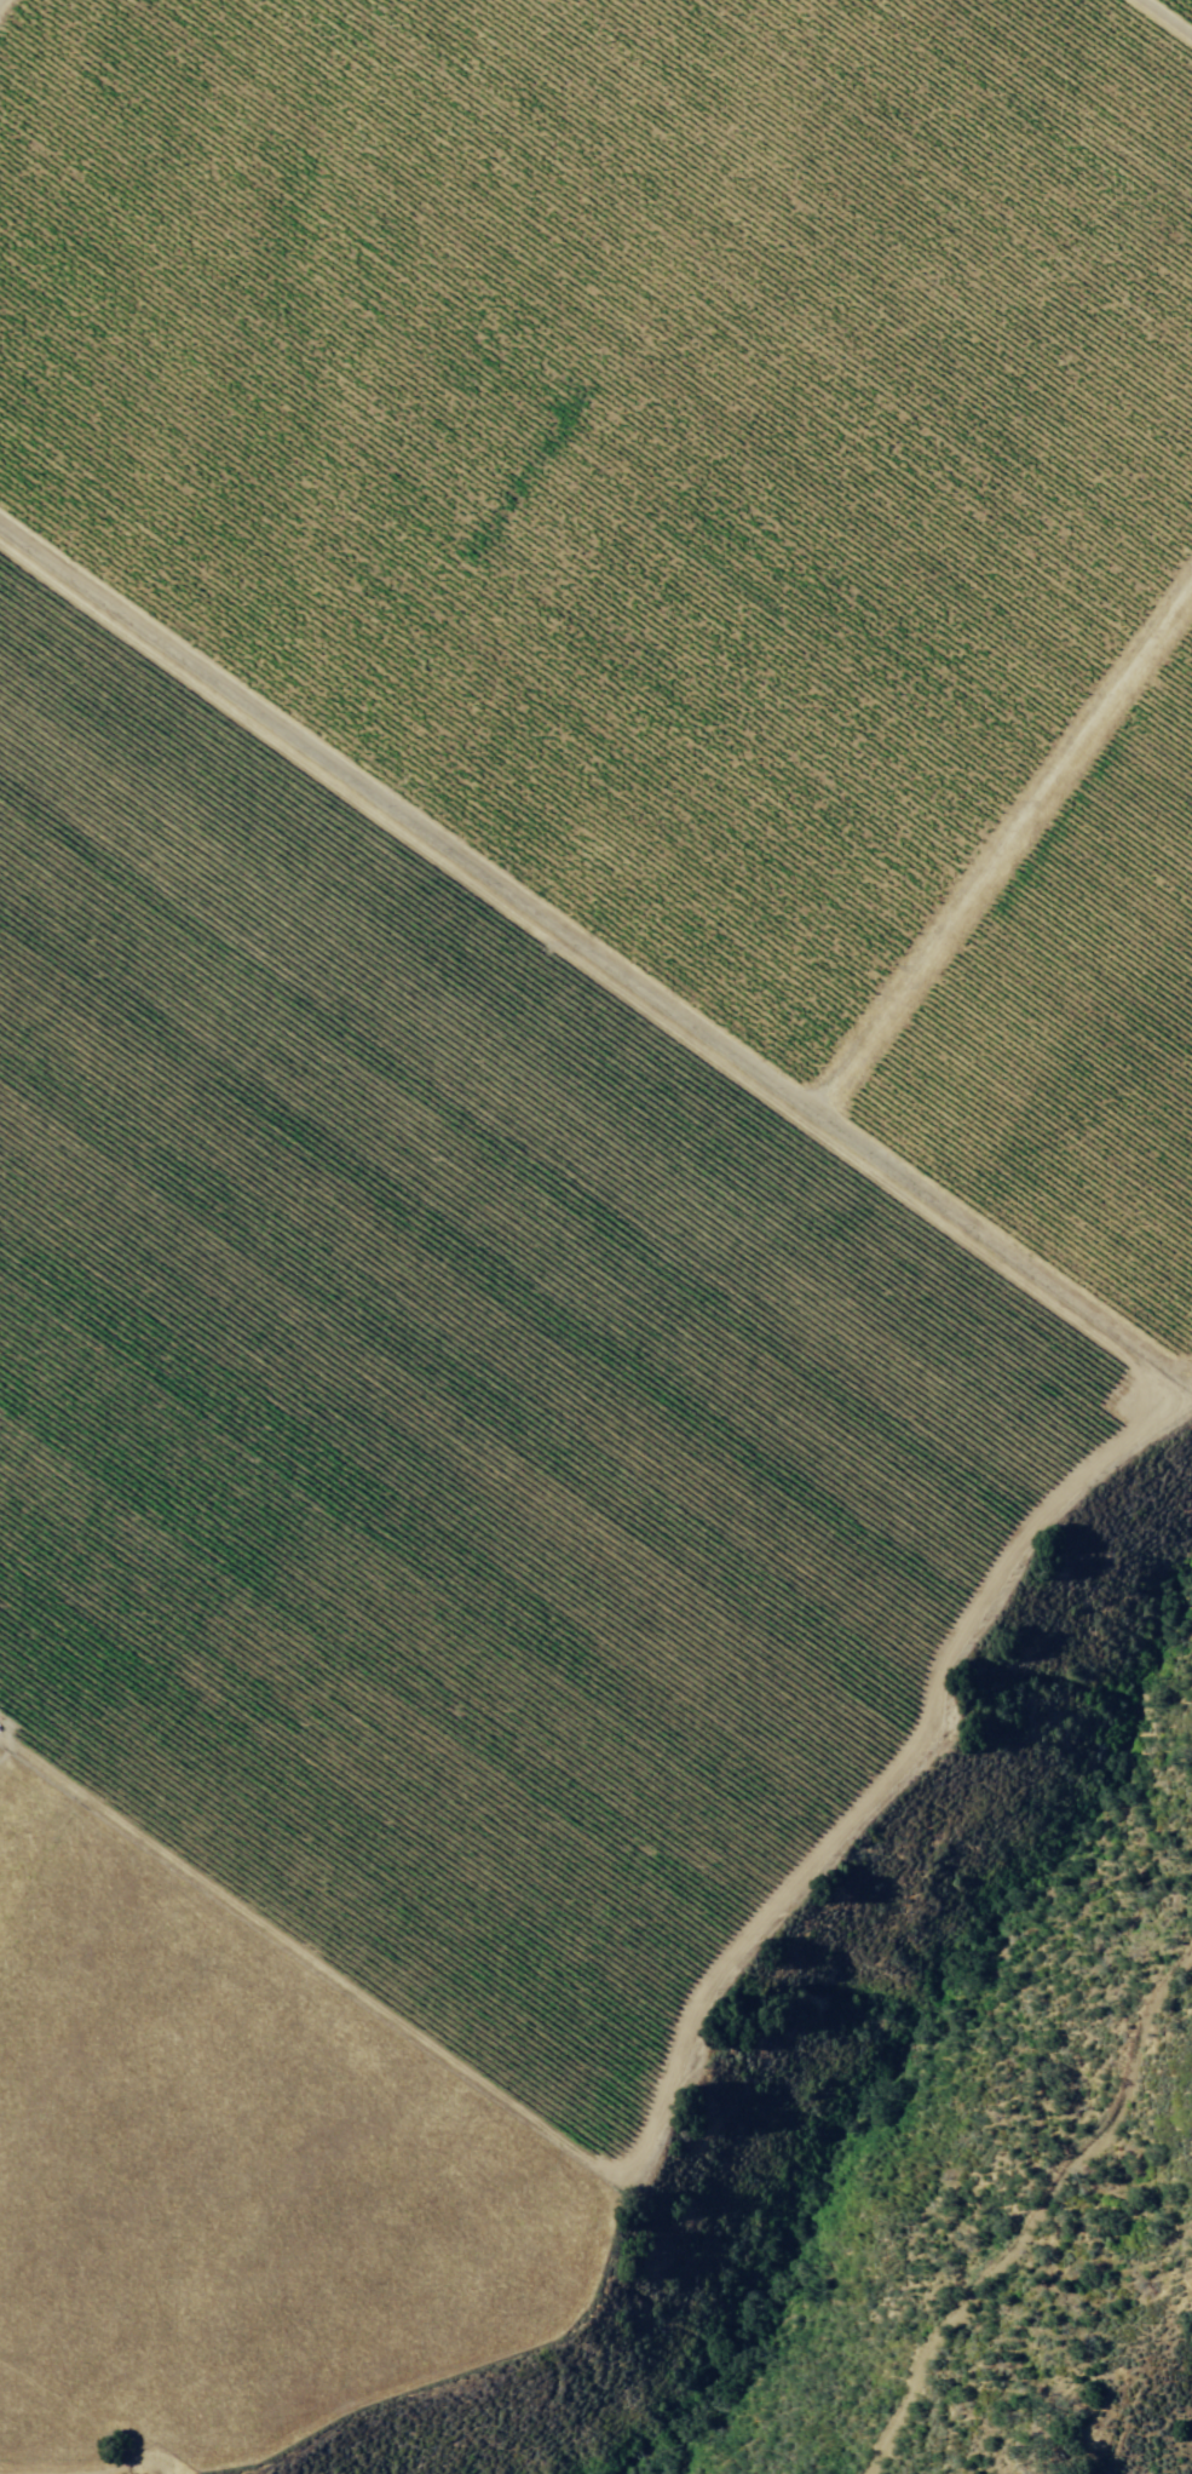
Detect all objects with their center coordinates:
road: (1102, 2347)
road: (6, 2473)

